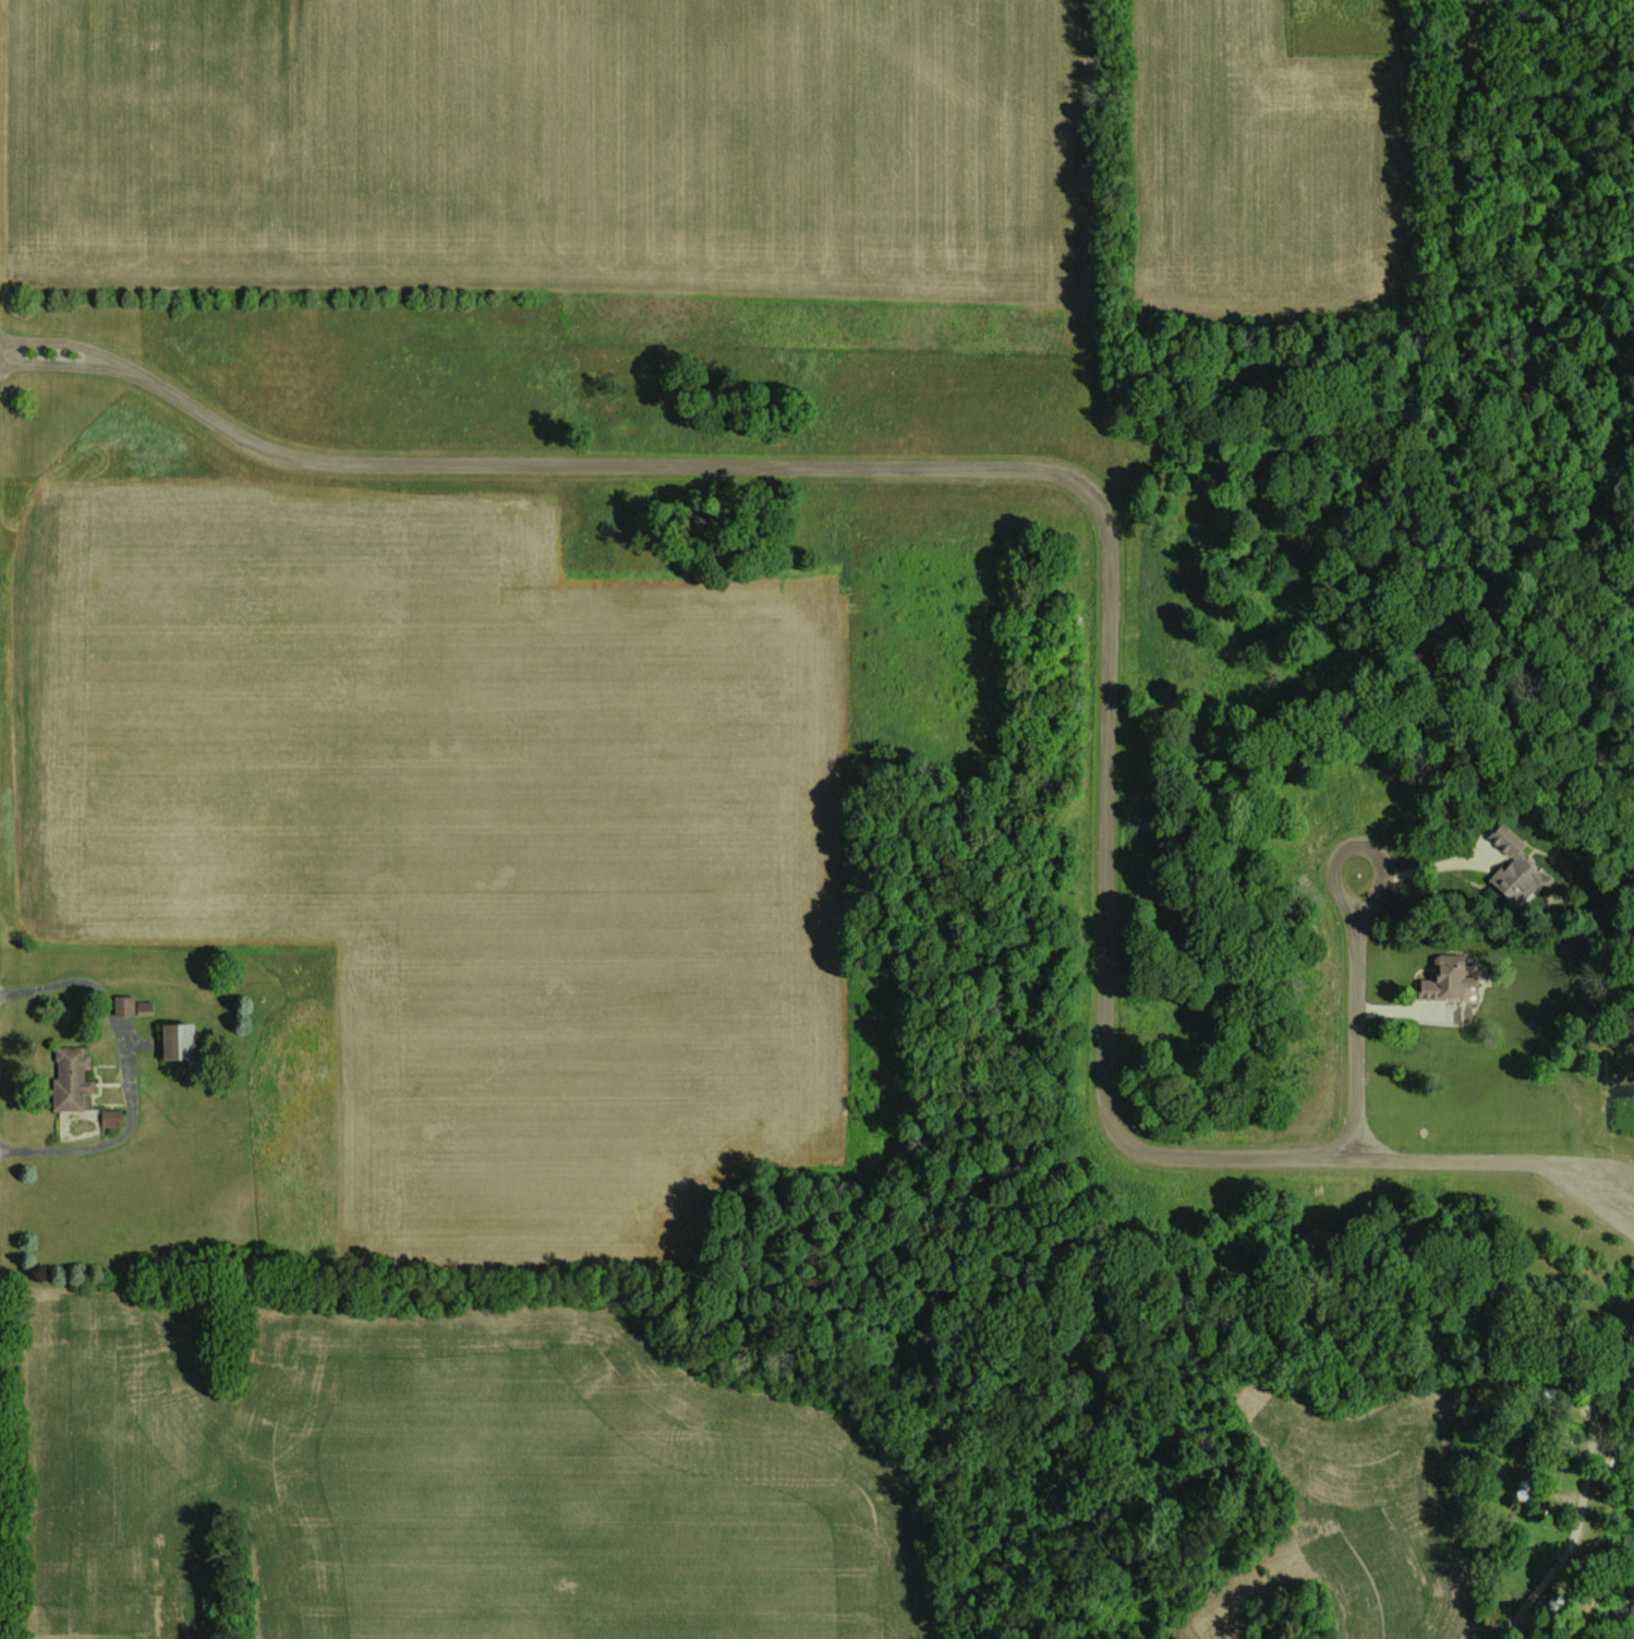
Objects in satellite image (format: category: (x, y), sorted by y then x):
road: (61, 340)
road: (58, 362)
road: (1443, 396)
road: (1109, 573)
road: (1436, 871)
building: (1513, 872)
road: (1355, 936)
building: (1443, 978)
building: (122, 1004)
building: (143, 1007)
building: (174, 1040)
road: (126, 1069)
building: (68, 1076)
building: (1627, 1542)
road: (1561, 1558)
building: (1629, 1580)
building: (1552, 1604)
road: (1571, 1637)

